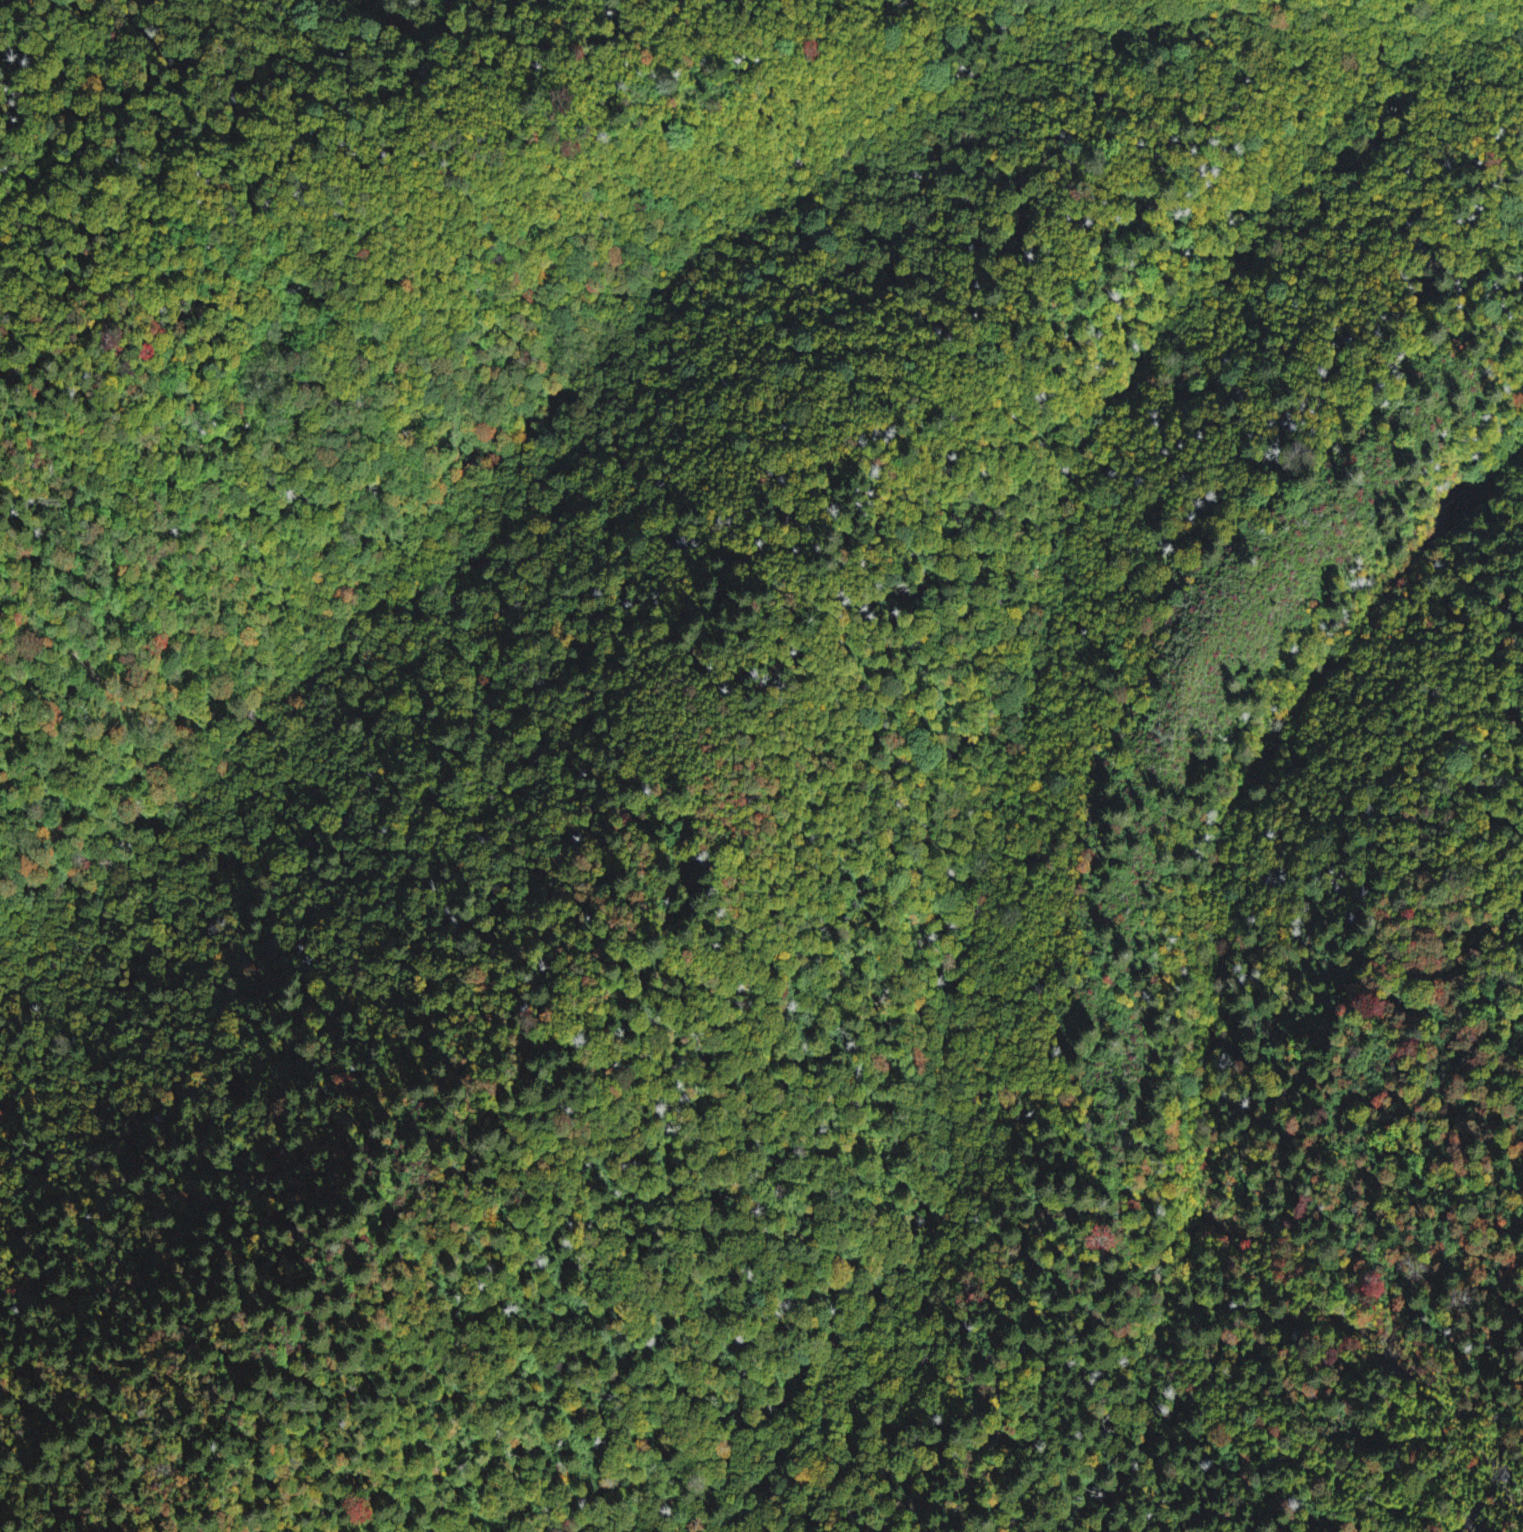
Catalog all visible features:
river: (1074, 17)
river: (1325, 46)

